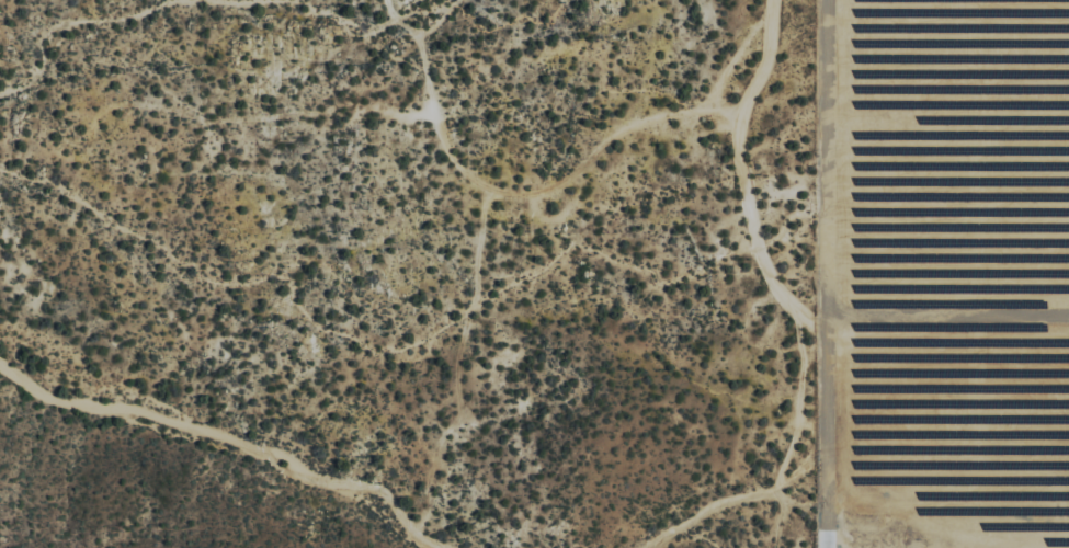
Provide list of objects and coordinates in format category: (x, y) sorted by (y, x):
solar farm: (945, 273)
road: (814, 318)
road: (218, 445)

